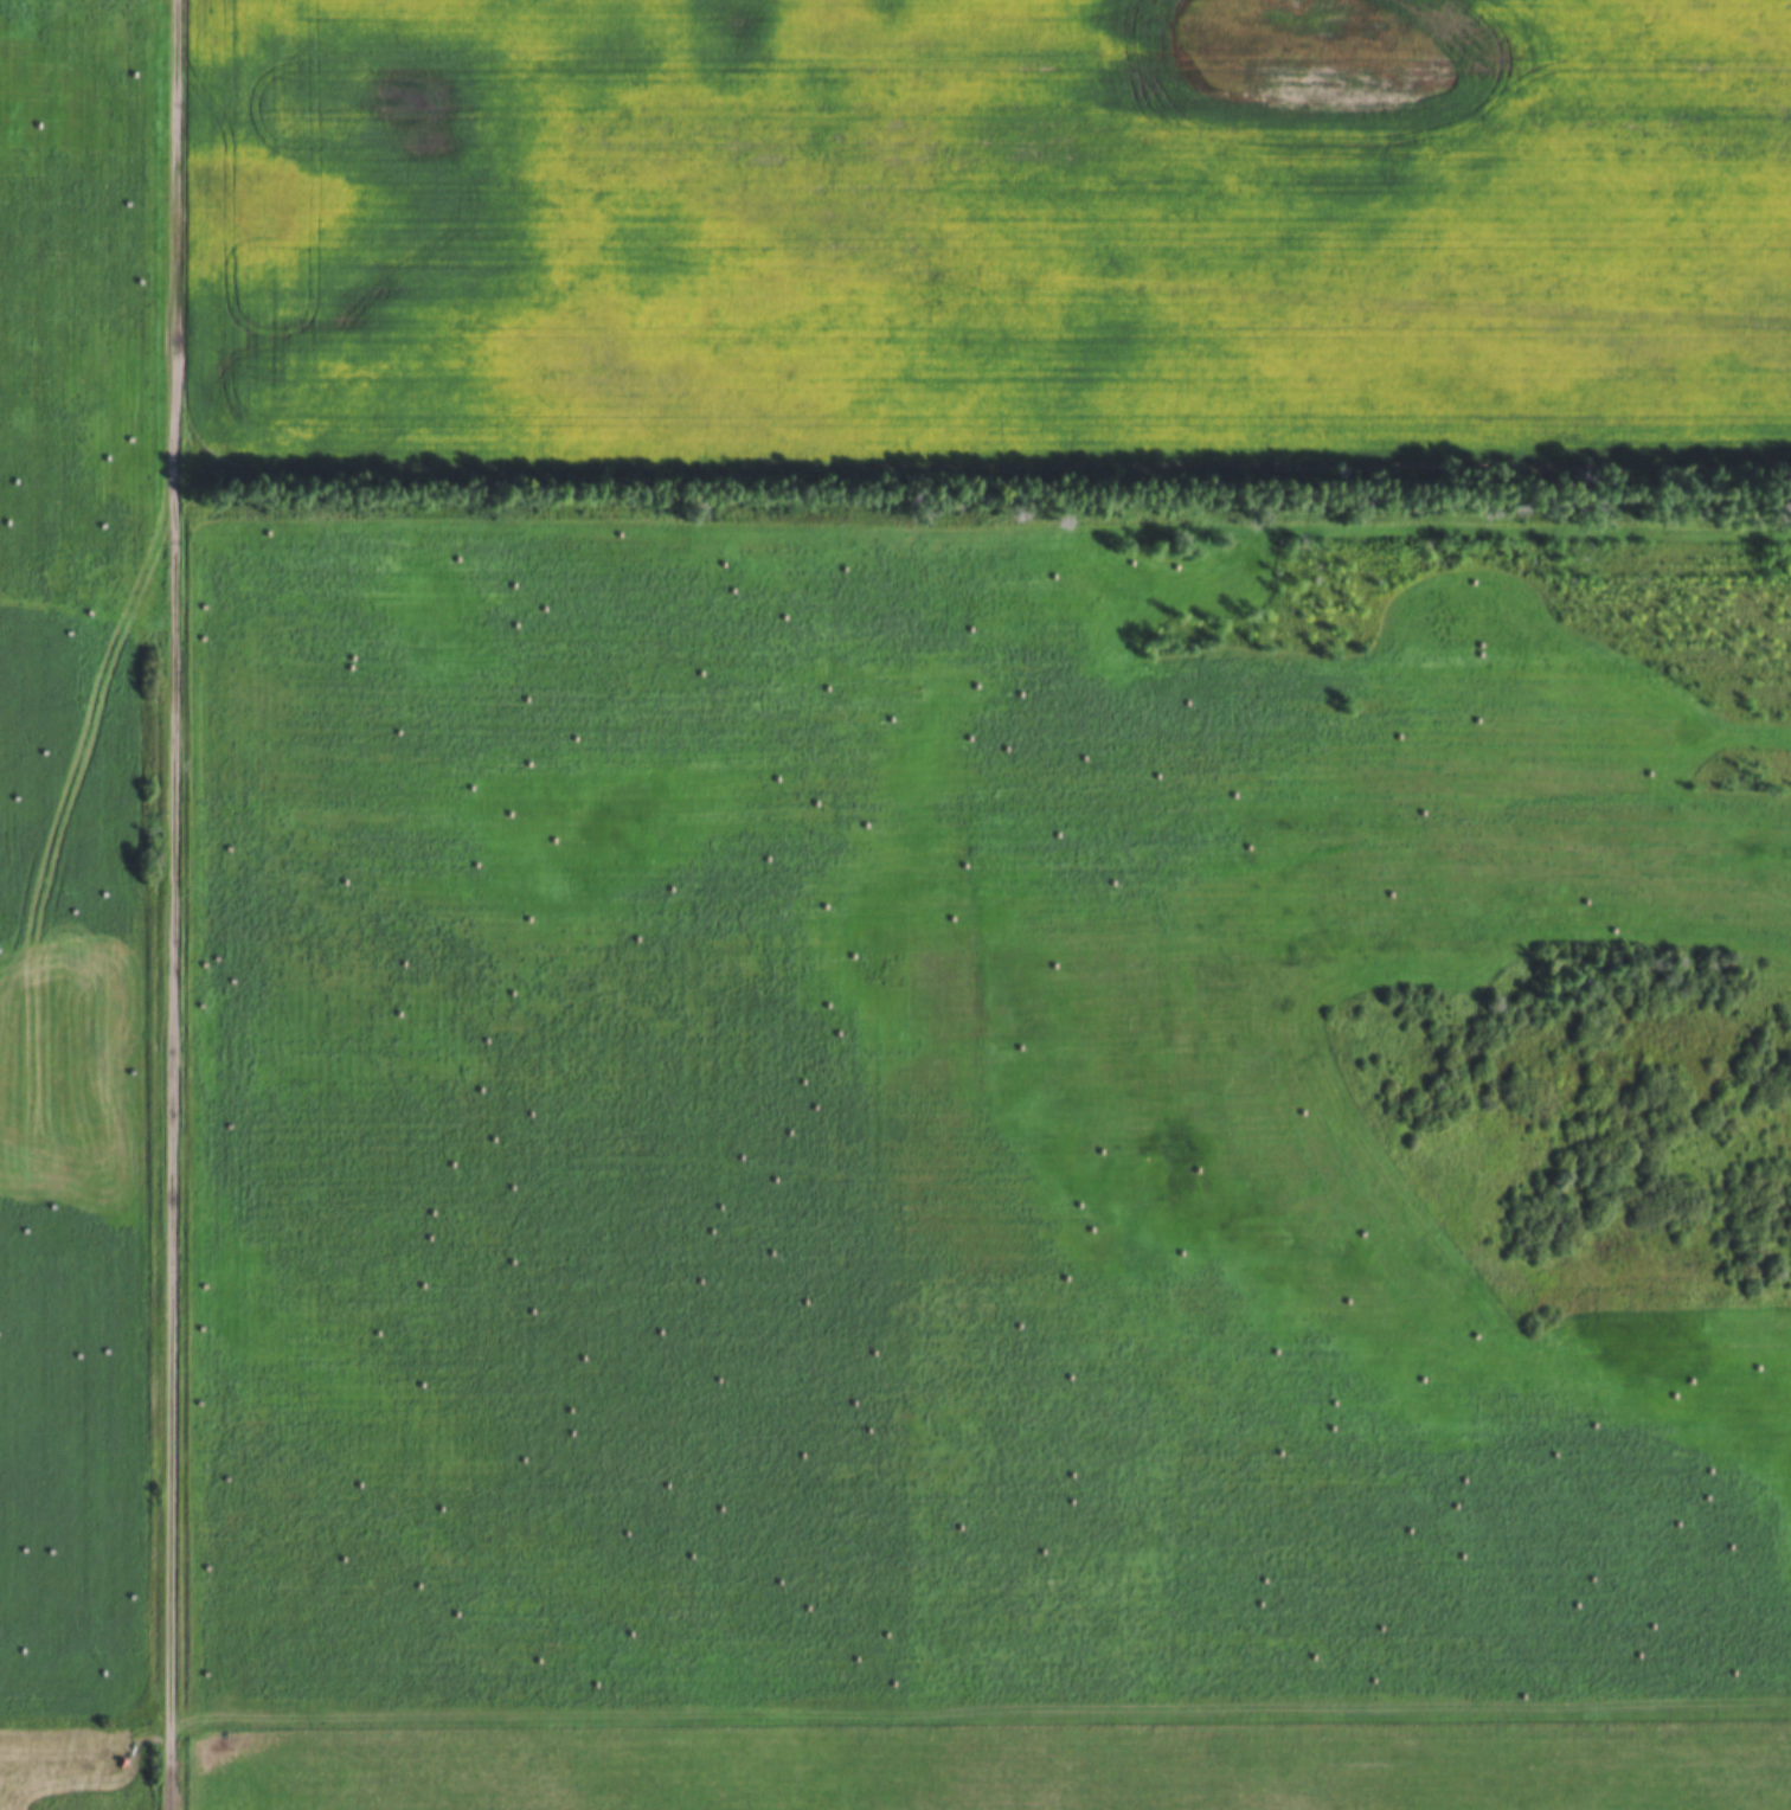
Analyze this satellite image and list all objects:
road: (85, 614)
road: (169, 904)
road: (981, 1708)

